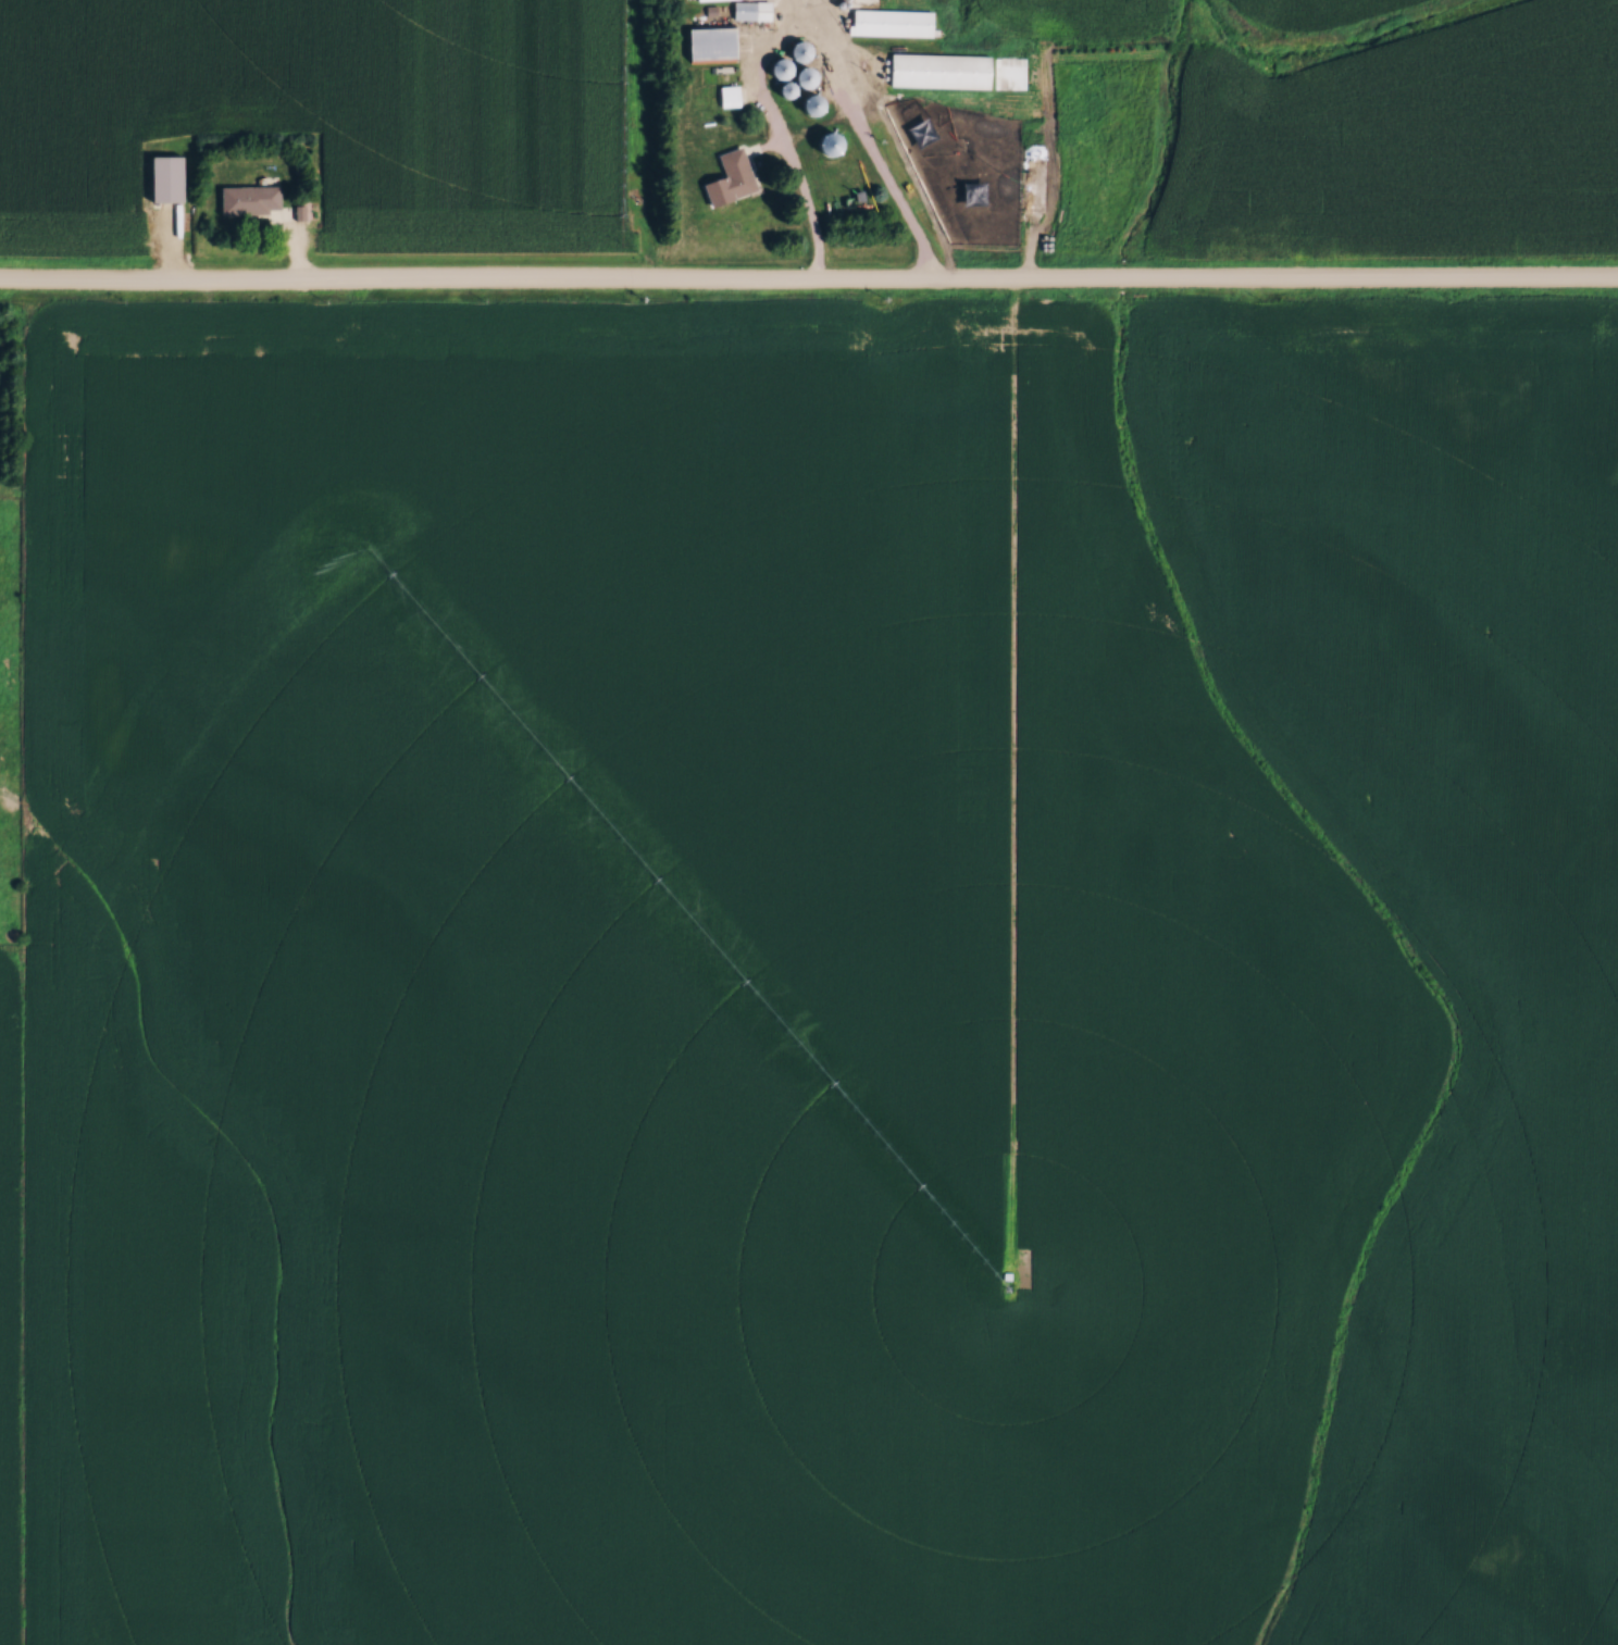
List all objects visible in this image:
building: (756, 10)
building: (905, 25)
road: (806, 40)
building: (723, 46)
building: (951, 75)
building: (733, 97)
building: (179, 179)
building: (735, 179)
building: (253, 199)
road: (809, 284)

